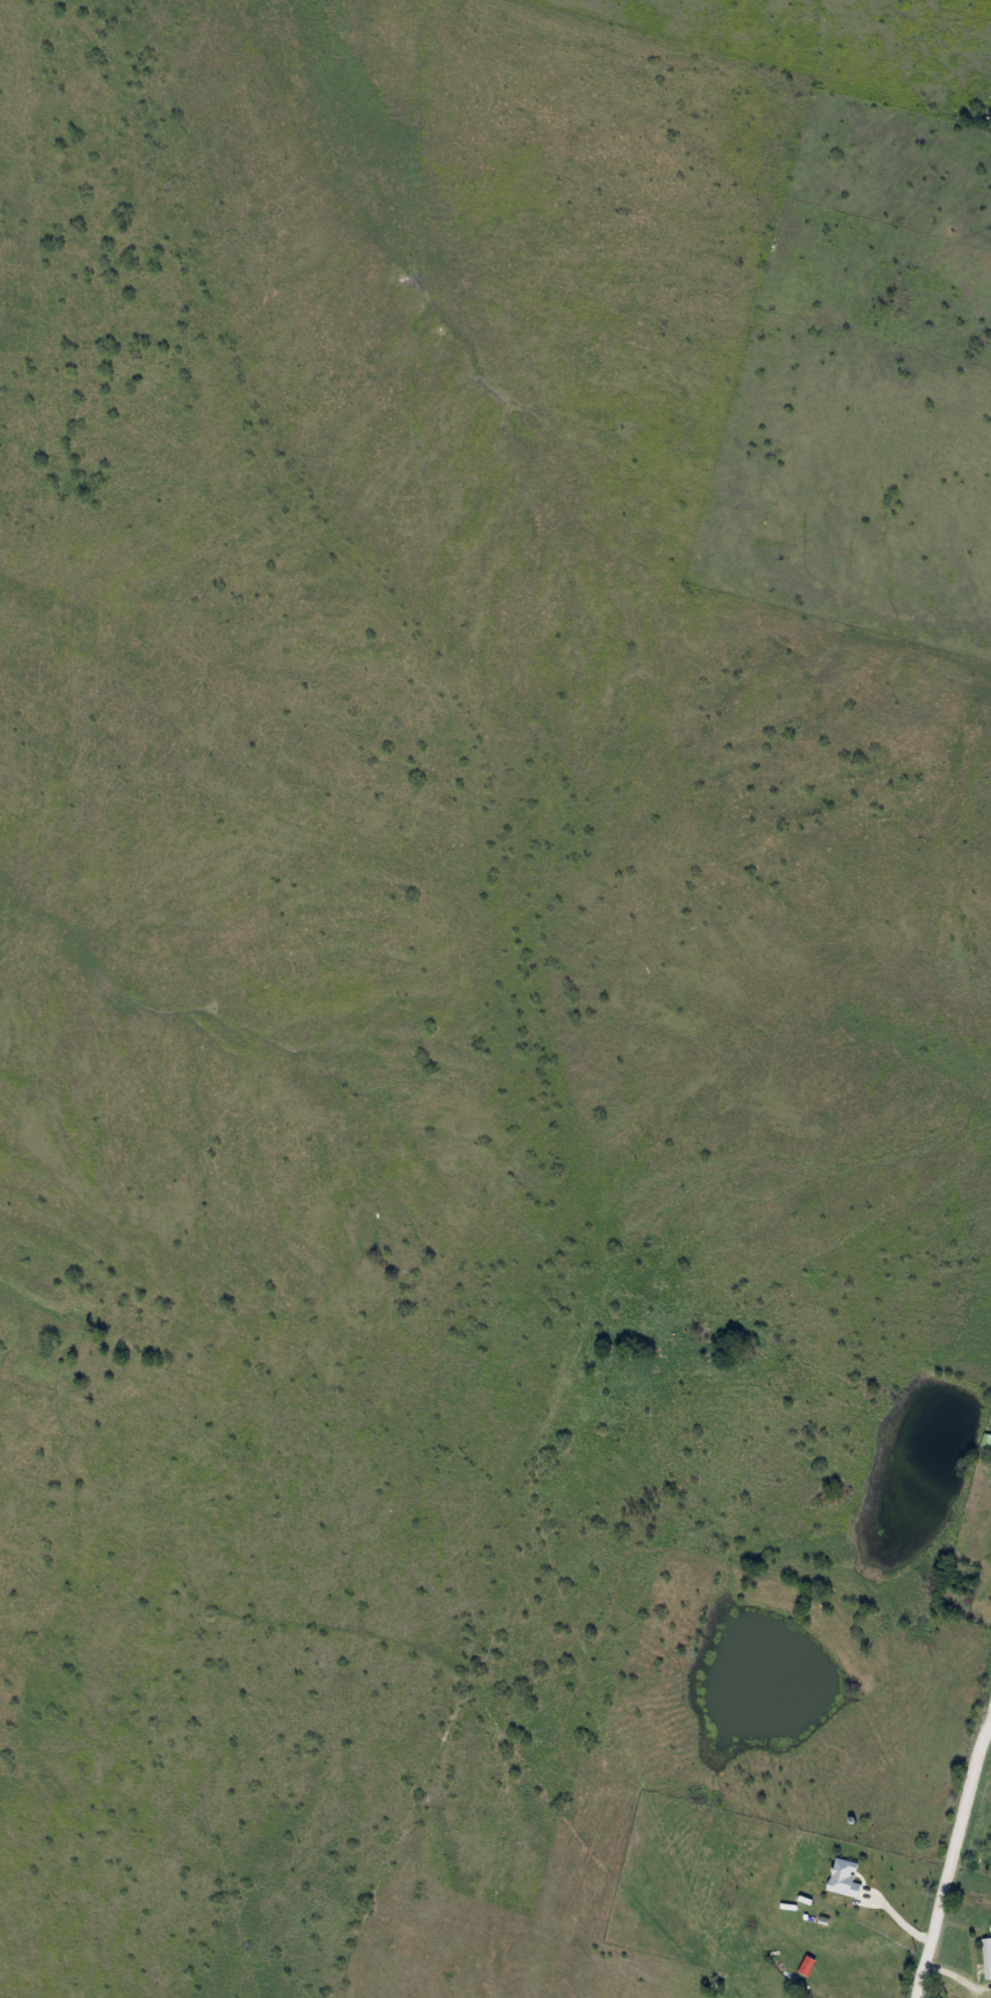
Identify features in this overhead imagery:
road: (990, 1725)
road: (952, 1861)
building: (988, 1958)
road: (951, 1976)

